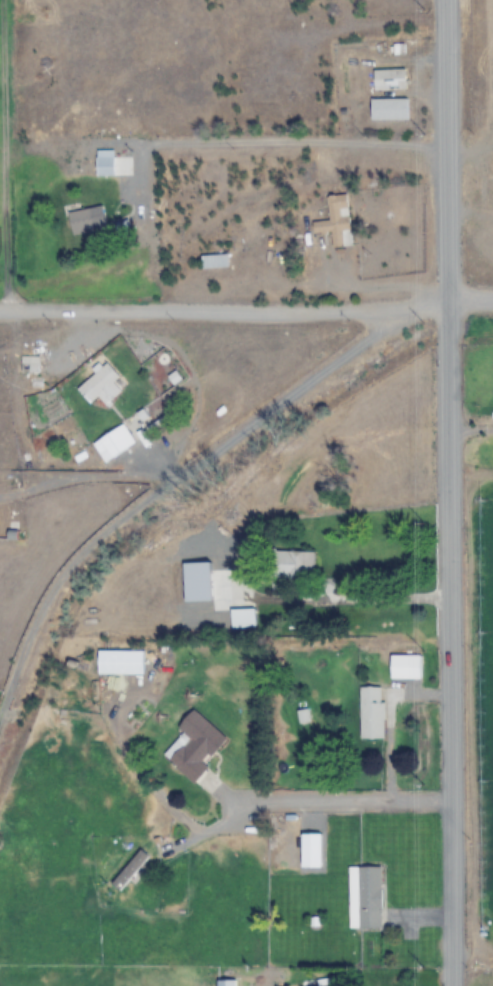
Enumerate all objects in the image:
building: (389, 80)
building: (388, 109)
road: (245, 147)
building: (105, 167)
building: (84, 221)
building: (336, 221)
building: (214, 261)
road: (471, 300)
road: (224, 315)
building: (29, 364)
building: (103, 385)
building: (118, 440)
road: (449, 492)
crop: (246, 493)
road: (142, 510)
building: (289, 564)
building: (243, 617)
building: (121, 662)
building: (407, 664)
building: (372, 712)
building: (195, 748)
road: (313, 799)
building: (131, 870)
building: (369, 897)
building: (227, 983)
building: (325, 983)

